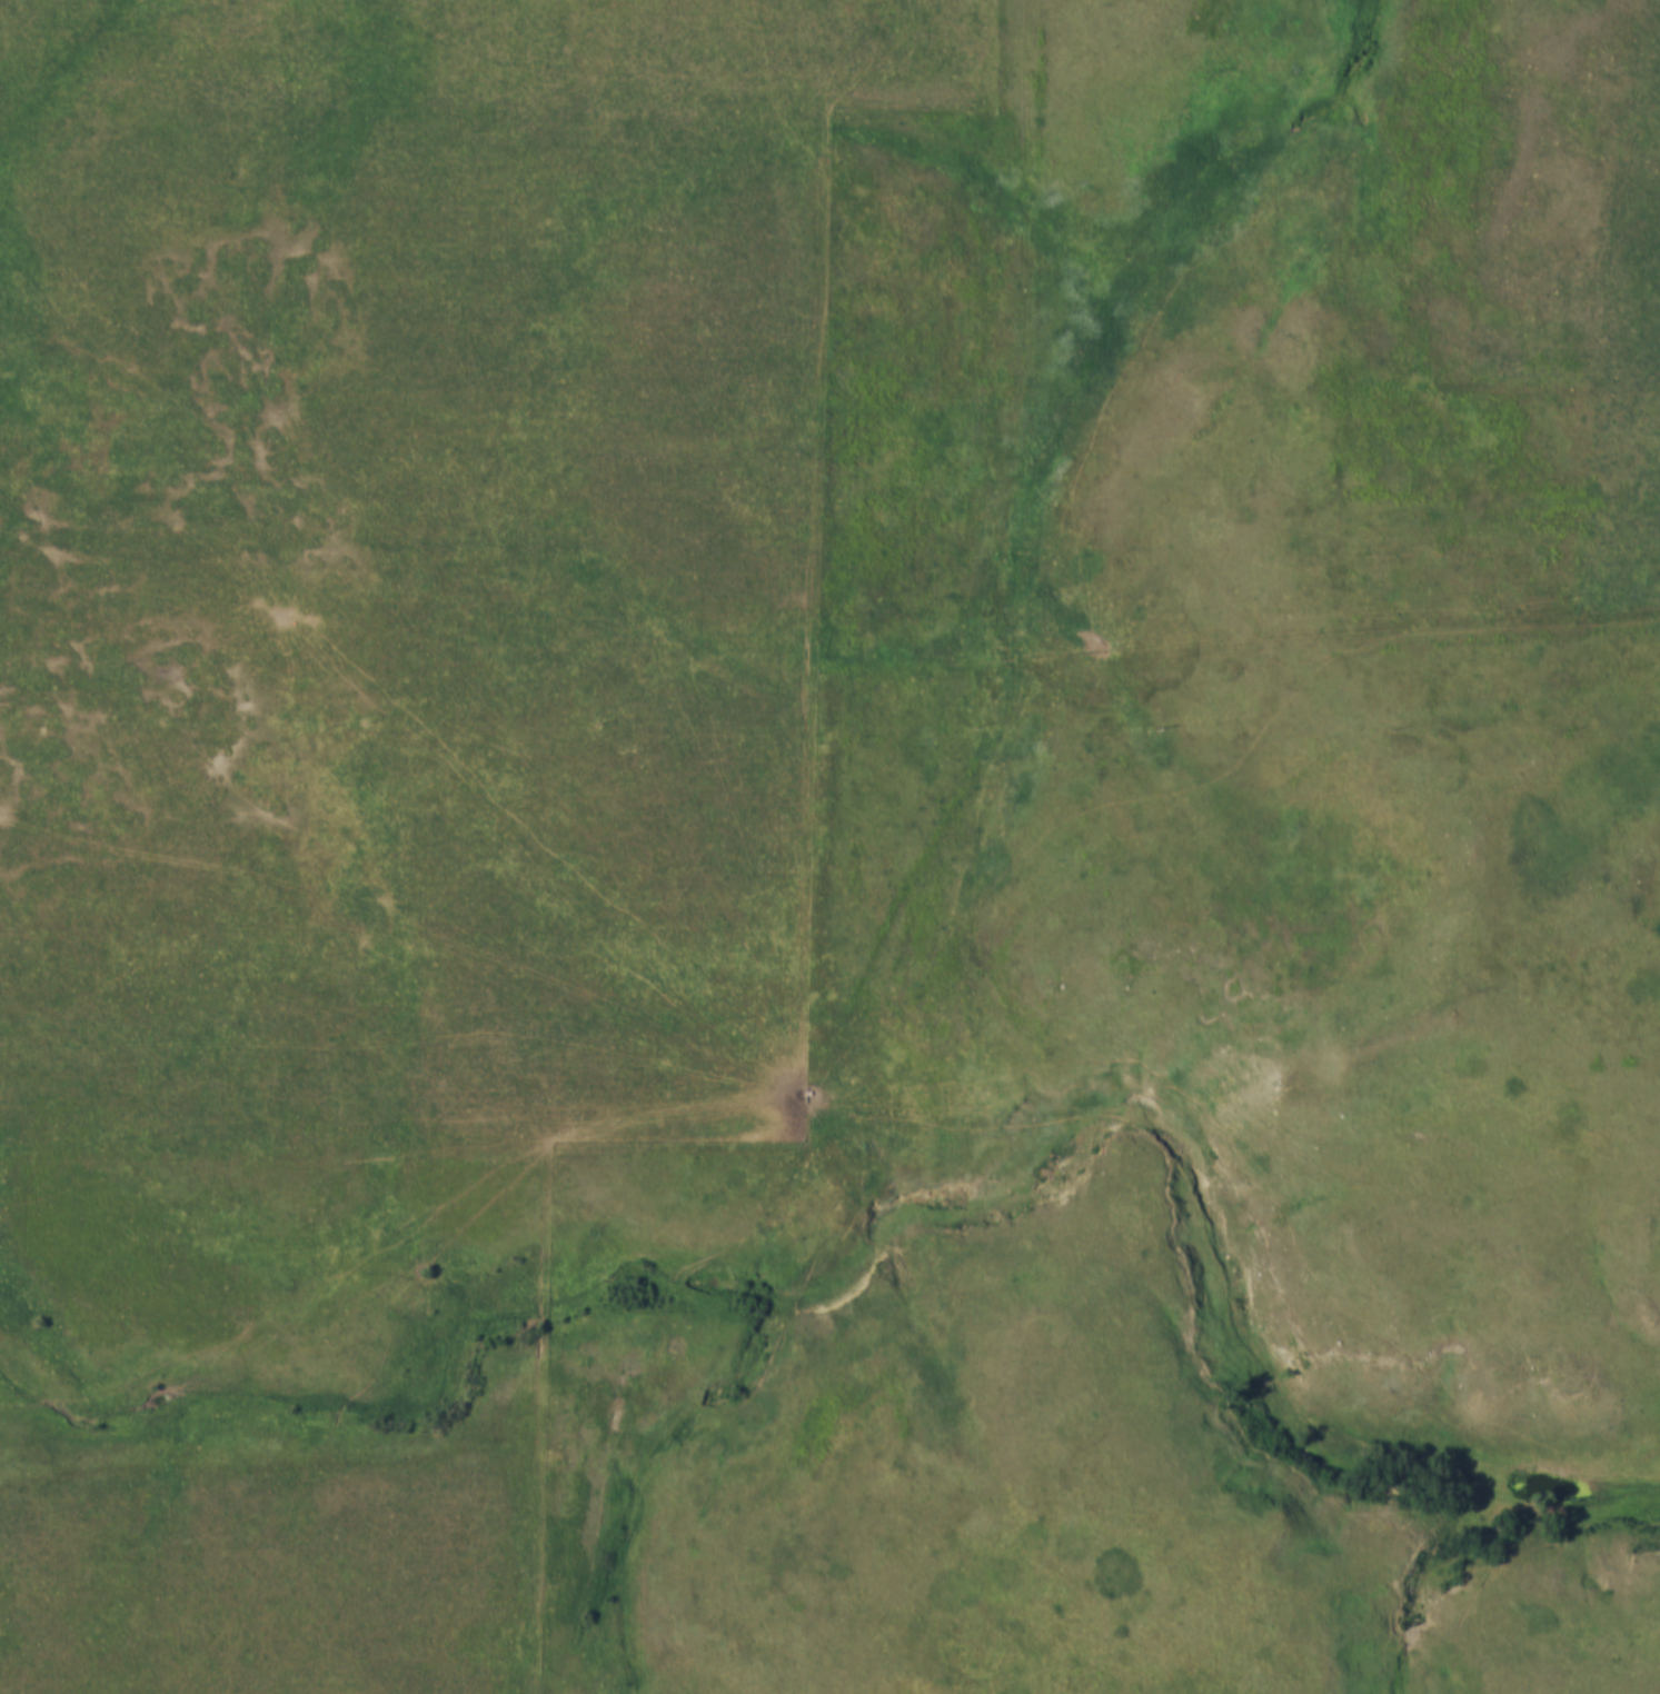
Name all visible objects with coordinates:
road: (978, 669)

